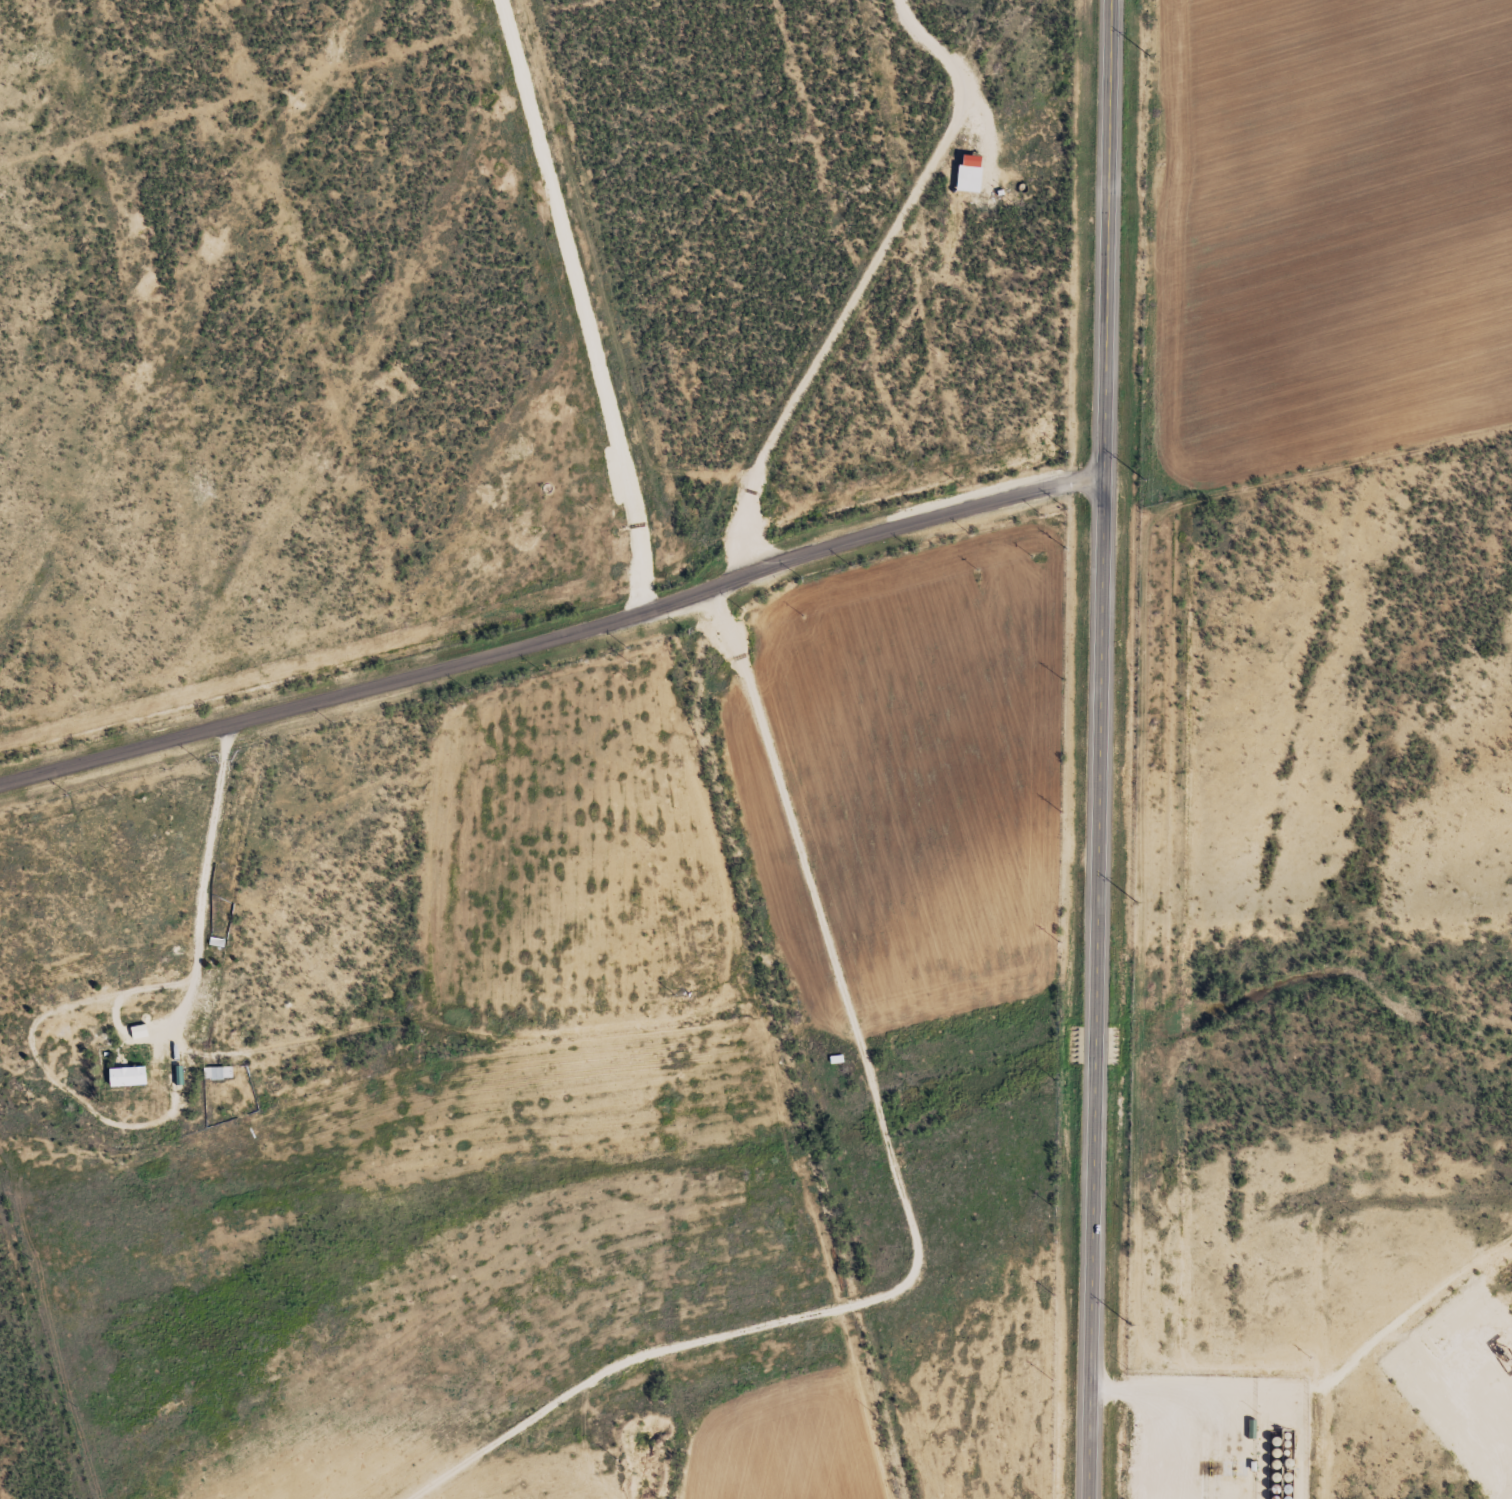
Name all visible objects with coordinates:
power tower: (1151, 56)
building: (970, 176)
power tower: (1144, 477)
road: (556, 635)
road: (1101, 749)
road: (199, 885)
power tower: (1138, 901)
building: (139, 1032)
building: (218, 1073)
building: (128, 1077)
power tower: (1130, 1323)

